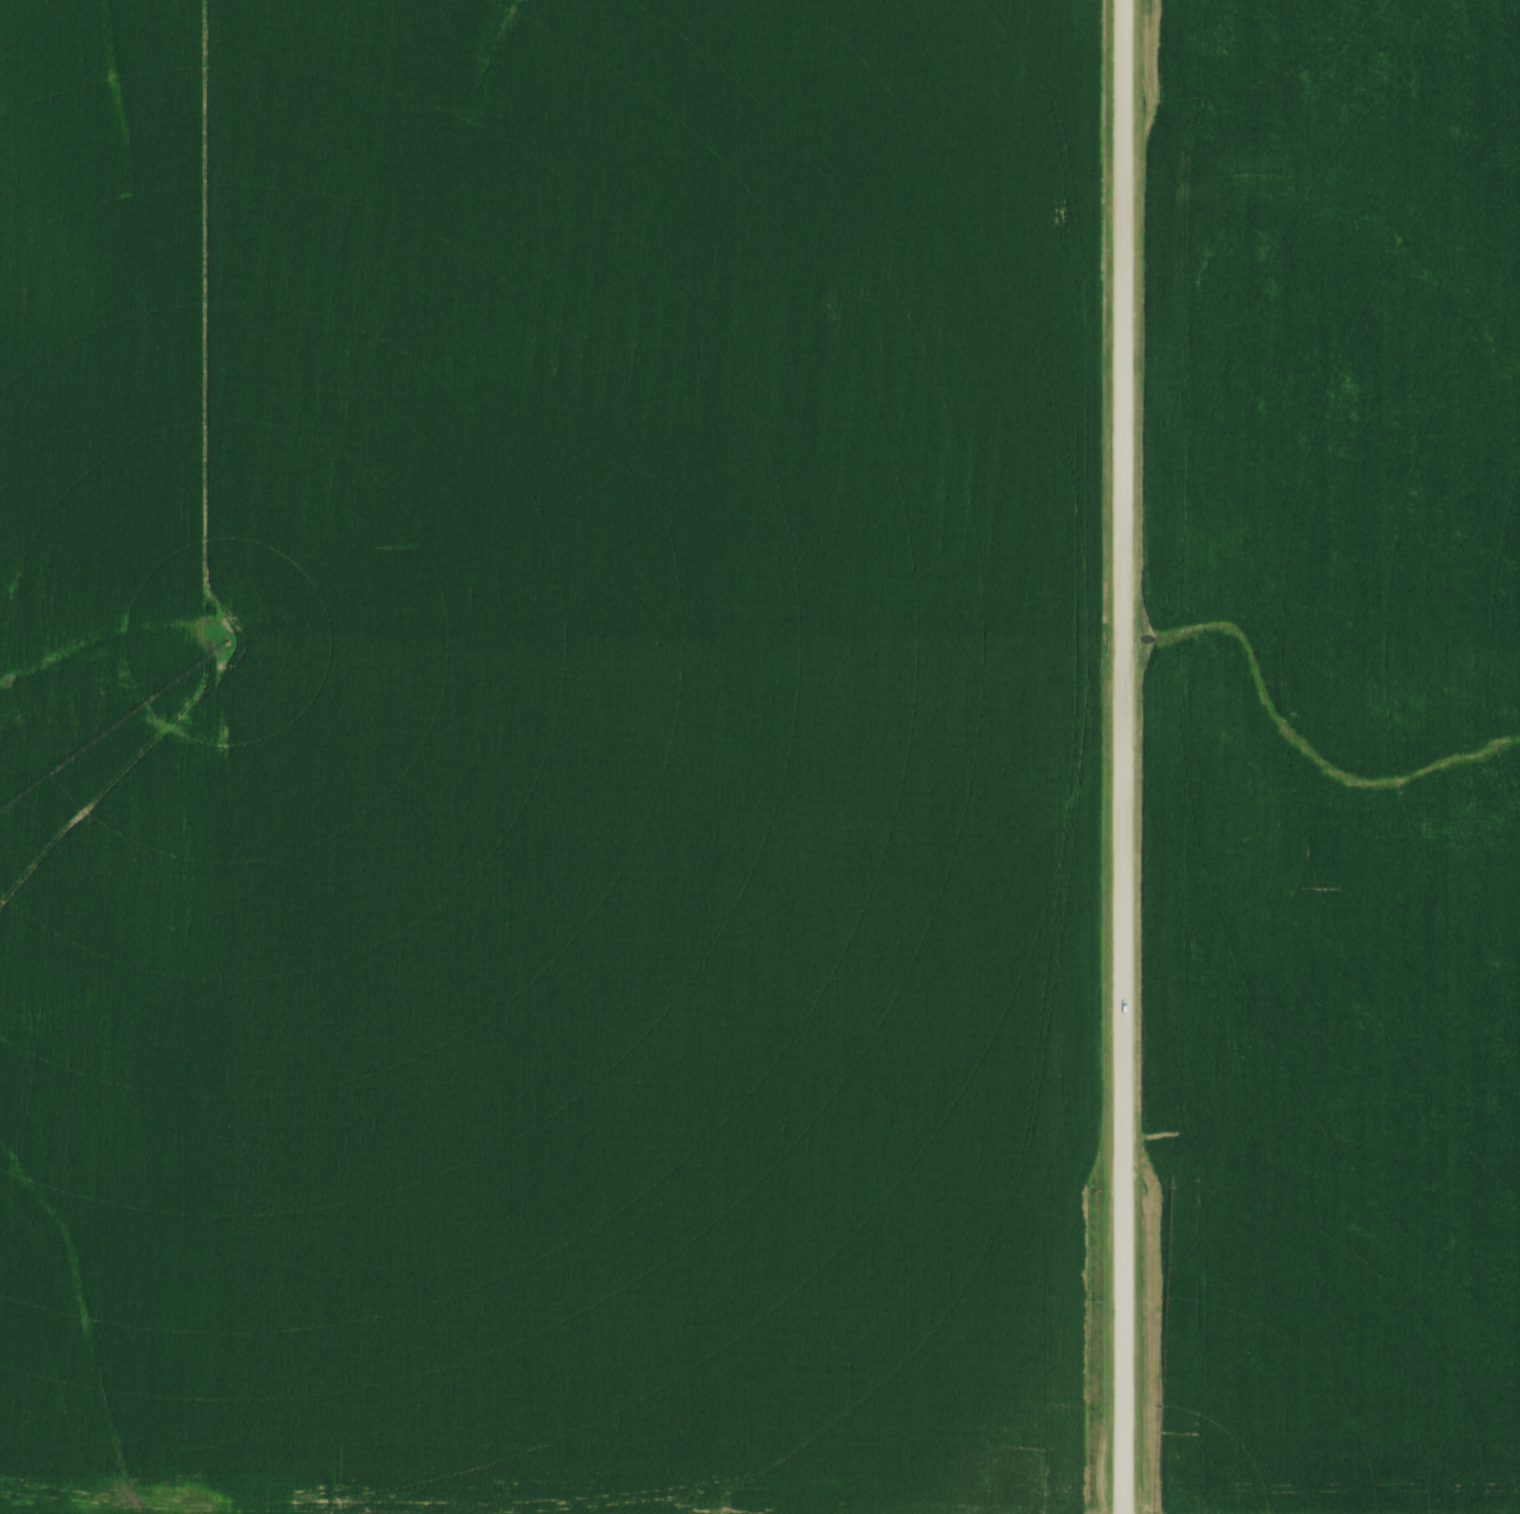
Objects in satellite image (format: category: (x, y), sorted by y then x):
road: (1122, 756)

